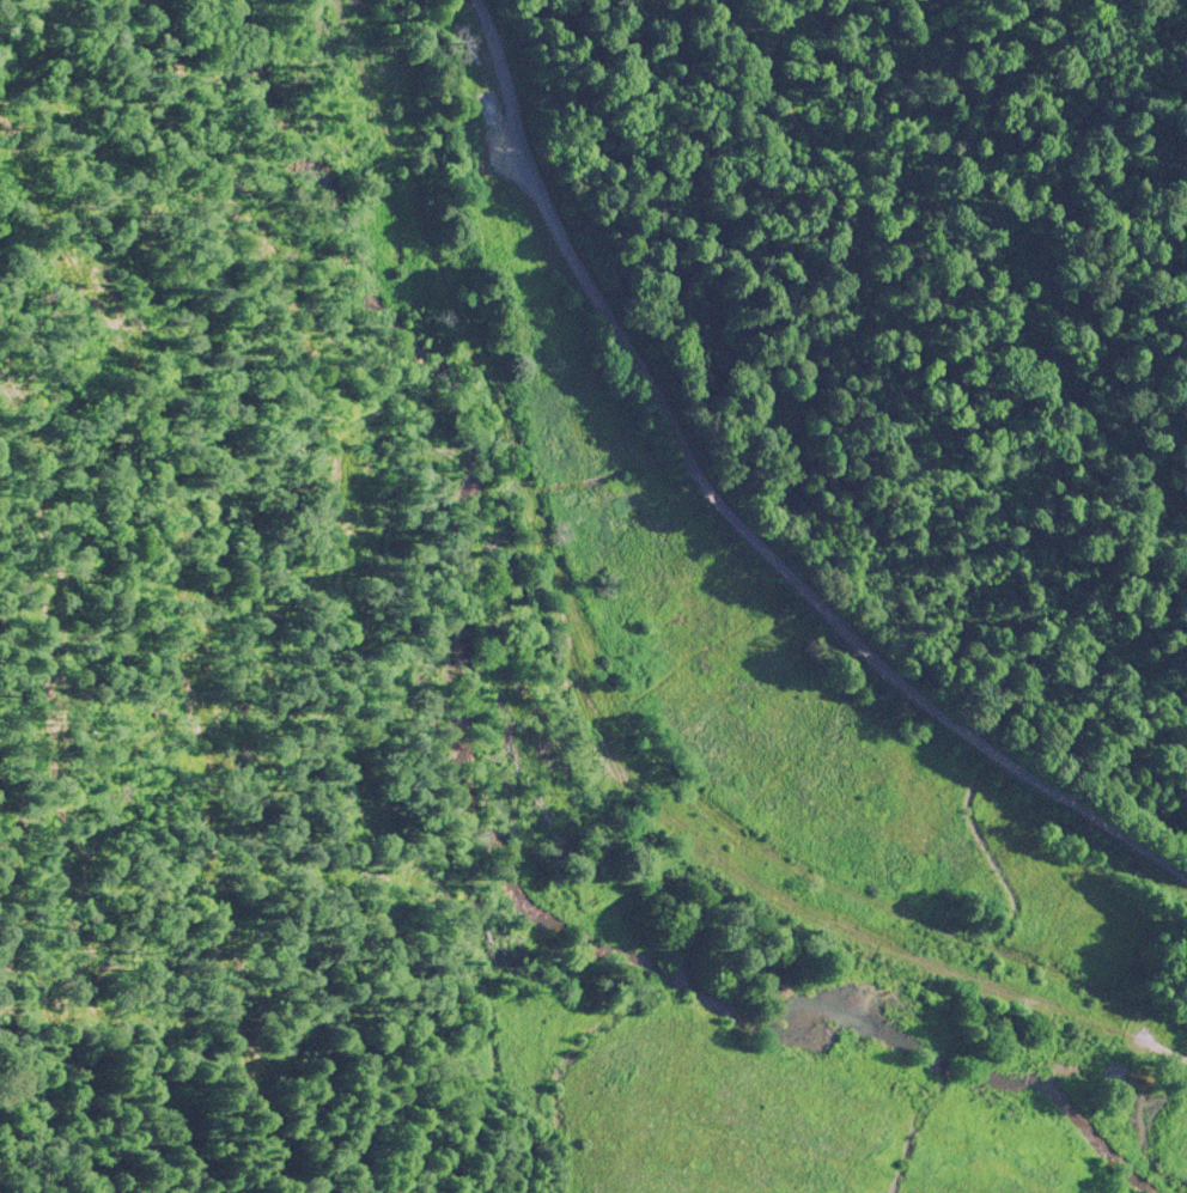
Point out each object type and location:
railway: (503, 434)
road: (733, 513)
road: (839, 919)
railway: (946, 950)

